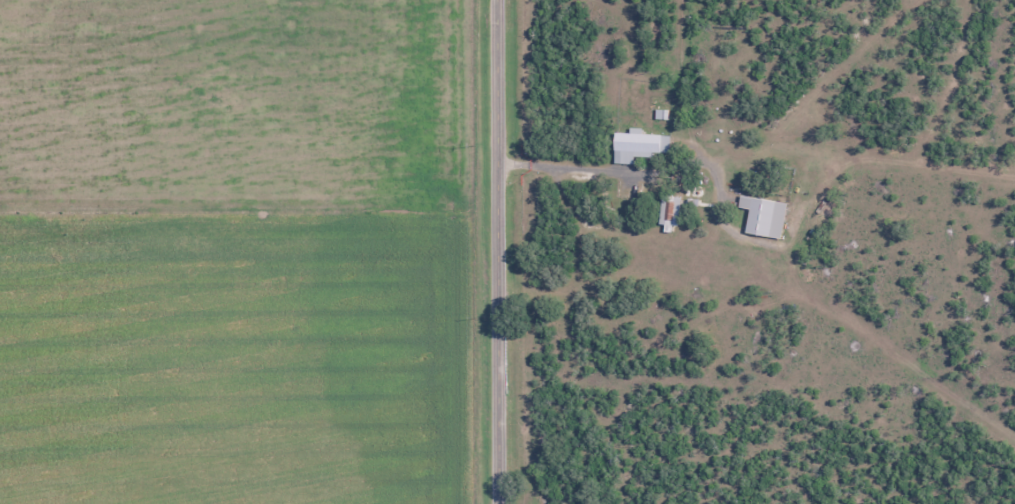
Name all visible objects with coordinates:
building: (637, 146)
road: (573, 174)
building: (668, 211)
building: (763, 217)
road: (249, 242)
road: (498, 251)

